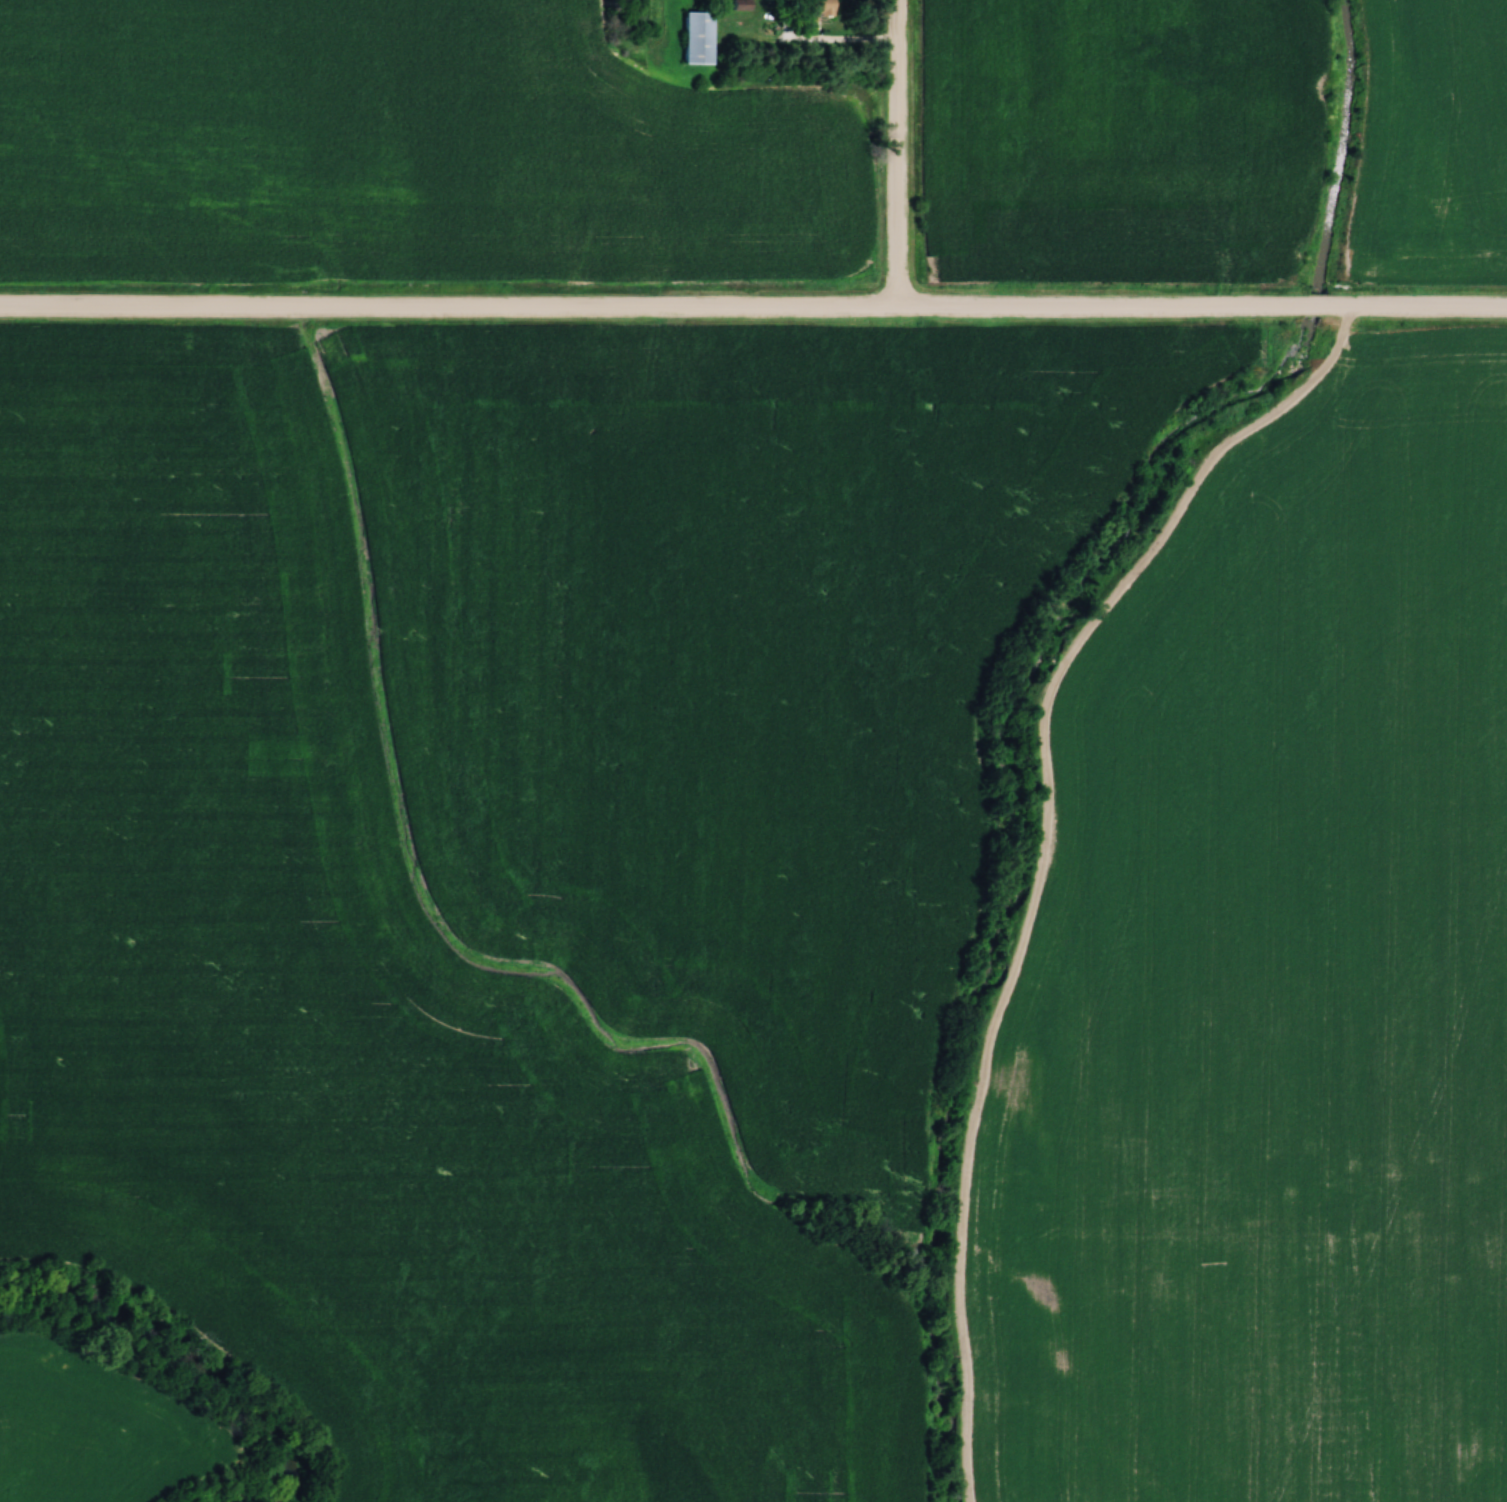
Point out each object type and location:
building: (813, 9)
building: (692, 38)
road: (898, 152)
road: (753, 305)
river: (189, 1357)

